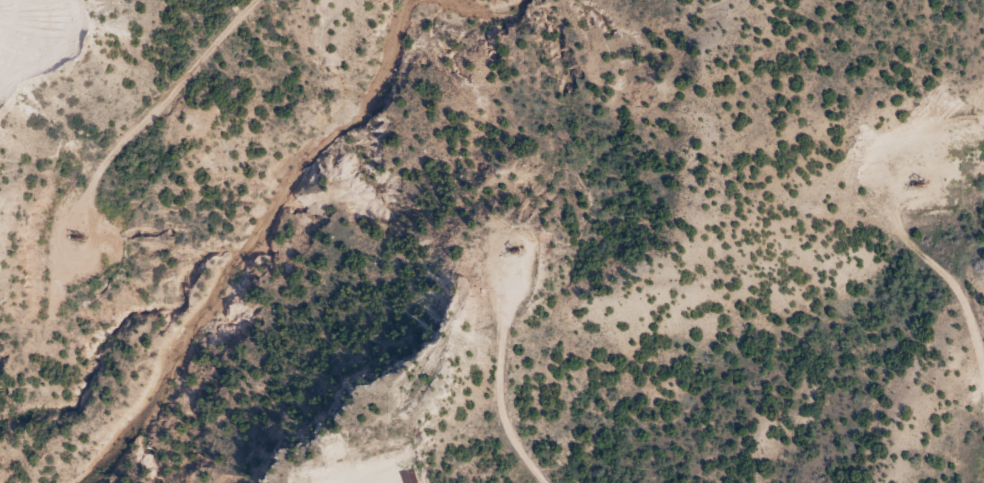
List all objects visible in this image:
road: (496, 404)

